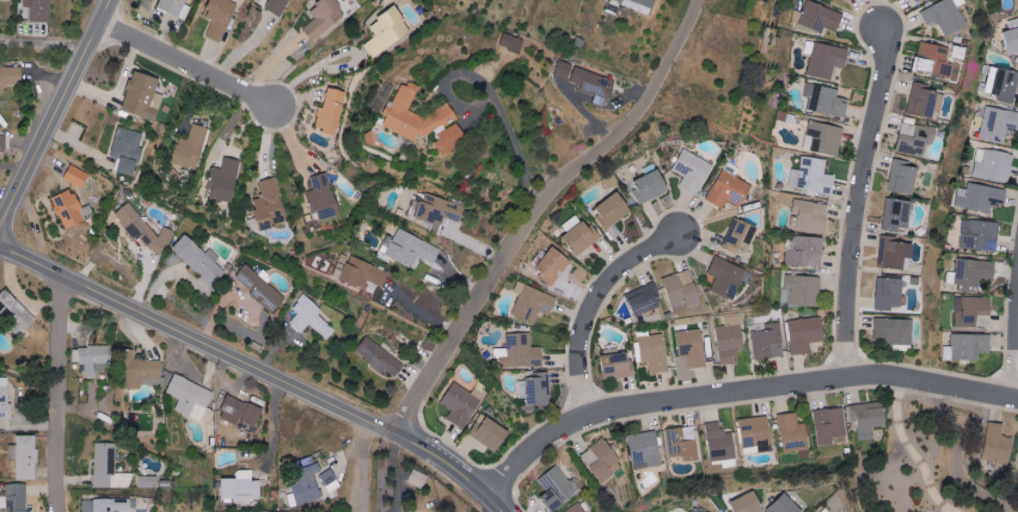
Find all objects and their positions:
building: (916, 0)
building: (640, 4)
building: (279, 6)
building: (175, 7)
building: (39, 9)
building: (944, 16)
building: (821, 17)
building: (220, 18)
building: (324, 18)
building: (386, 32)
road: (42, 41)
building: (512, 43)
road: (330, 58)
building: (931, 58)
building: (827, 60)
road: (185, 65)
building: (563, 70)
building: (10, 77)
building: (1000, 83)
building: (593, 84)
building: (143, 96)
building: (827, 100)
building: (923, 101)
building: (331, 111)
road: (54, 114)
building: (415, 115)
building: (999, 124)
building: (825, 138)
building: (451, 139)
building: (916, 139)
building: (3, 142)
building: (192, 147)
building: (127, 150)
road: (521, 155)
building: (993, 165)
building: (693, 171)
building: (77, 176)
building: (812, 176)
building: (904, 177)
building: (224, 180)
building: (651, 187)
building: (729, 190)
building: (323, 196)
building: (980, 197)
road: (860, 203)
building: (269, 205)
building: (70, 208)
building: (437, 209)
building: (613, 210)
building: (897, 214)
road: (540, 215)
building: (811, 216)
building: (143, 228)
building: (580, 235)
building: (741, 235)
building: (980, 235)
building: (411, 249)
building: (805, 251)
building: (895, 253)
building: (200, 260)
building: (553, 265)
building: (360, 272)
building: (973, 273)
building: (727, 277)
building: (260, 288)
building: (682, 290)
building: (802, 291)
building: (889, 293)
building: (645, 299)
building: (532, 302)
road: (595, 307)
building: (974, 311)
road: (423, 312)
building: (15, 313)
building: (310, 318)
building: (893, 330)
building: (805, 334)
building: (768, 342)
building: (730, 343)
building: (970, 346)
building: (693, 348)
building: (520, 352)
building: (653, 352)
building: (378, 356)
building: (95, 359)
building: (618, 365)
road: (259, 369)
building: (147, 372)
building: (536, 388)
road: (739, 392)
road: (58, 393)
building: (190, 397)
building: (5, 399)
building: (460, 405)
building: (240, 411)
building: (869, 418)
road: (274, 425)
building: (830, 425)
building: (756, 433)
building: (793, 433)
building: (492, 434)
building: (682, 443)
building: (720, 443)
building: (999, 448)
building: (645, 449)
road: (912, 450)
building: (26, 457)
road: (957, 457)
building: (603, 460)
road: (366, 465)
building: (109, 468)
road: (396, 472)
building: (418, 479)
building: (330, 480)
building: (148, 482)
building: (241, 487)
building: (557, 488)
building: (306, 492)
building: (15, 498)
building: (750, 503)
road: (489, 504)
building: (107, 505)
building: (786, 505)
building: (577, 509)
building: (826, 510)
road: (365, 511)
building: (691, 511)

